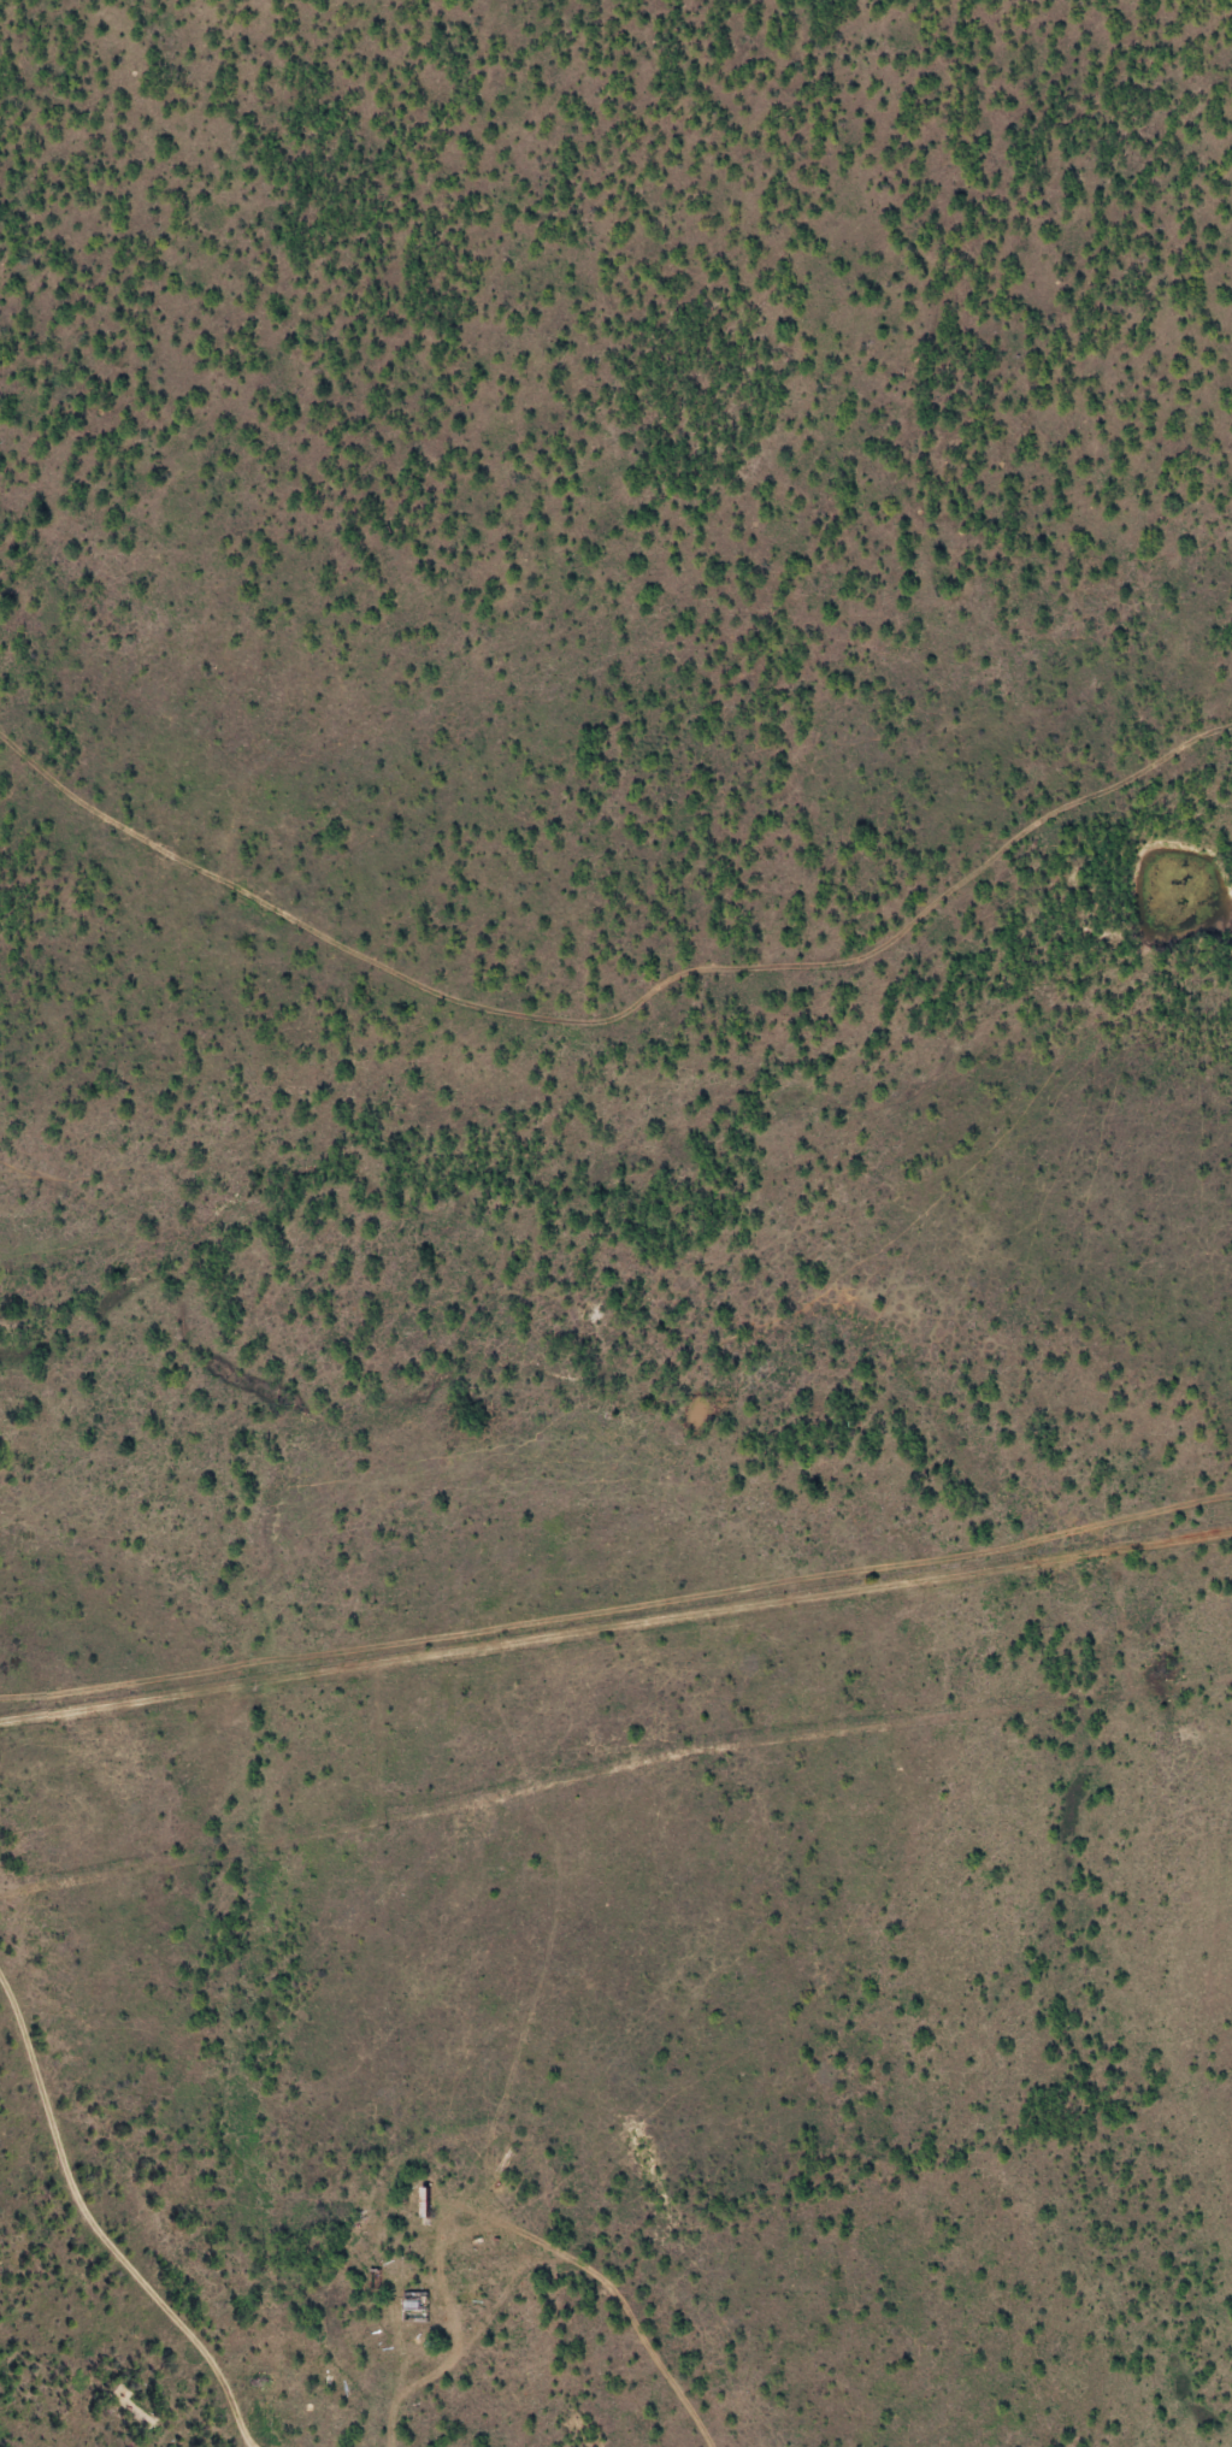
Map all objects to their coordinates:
road: (1172, 196)
road: (523, 2181)
road: (93, 2228)
building: (418, 2305)
road: (612, 2384)

